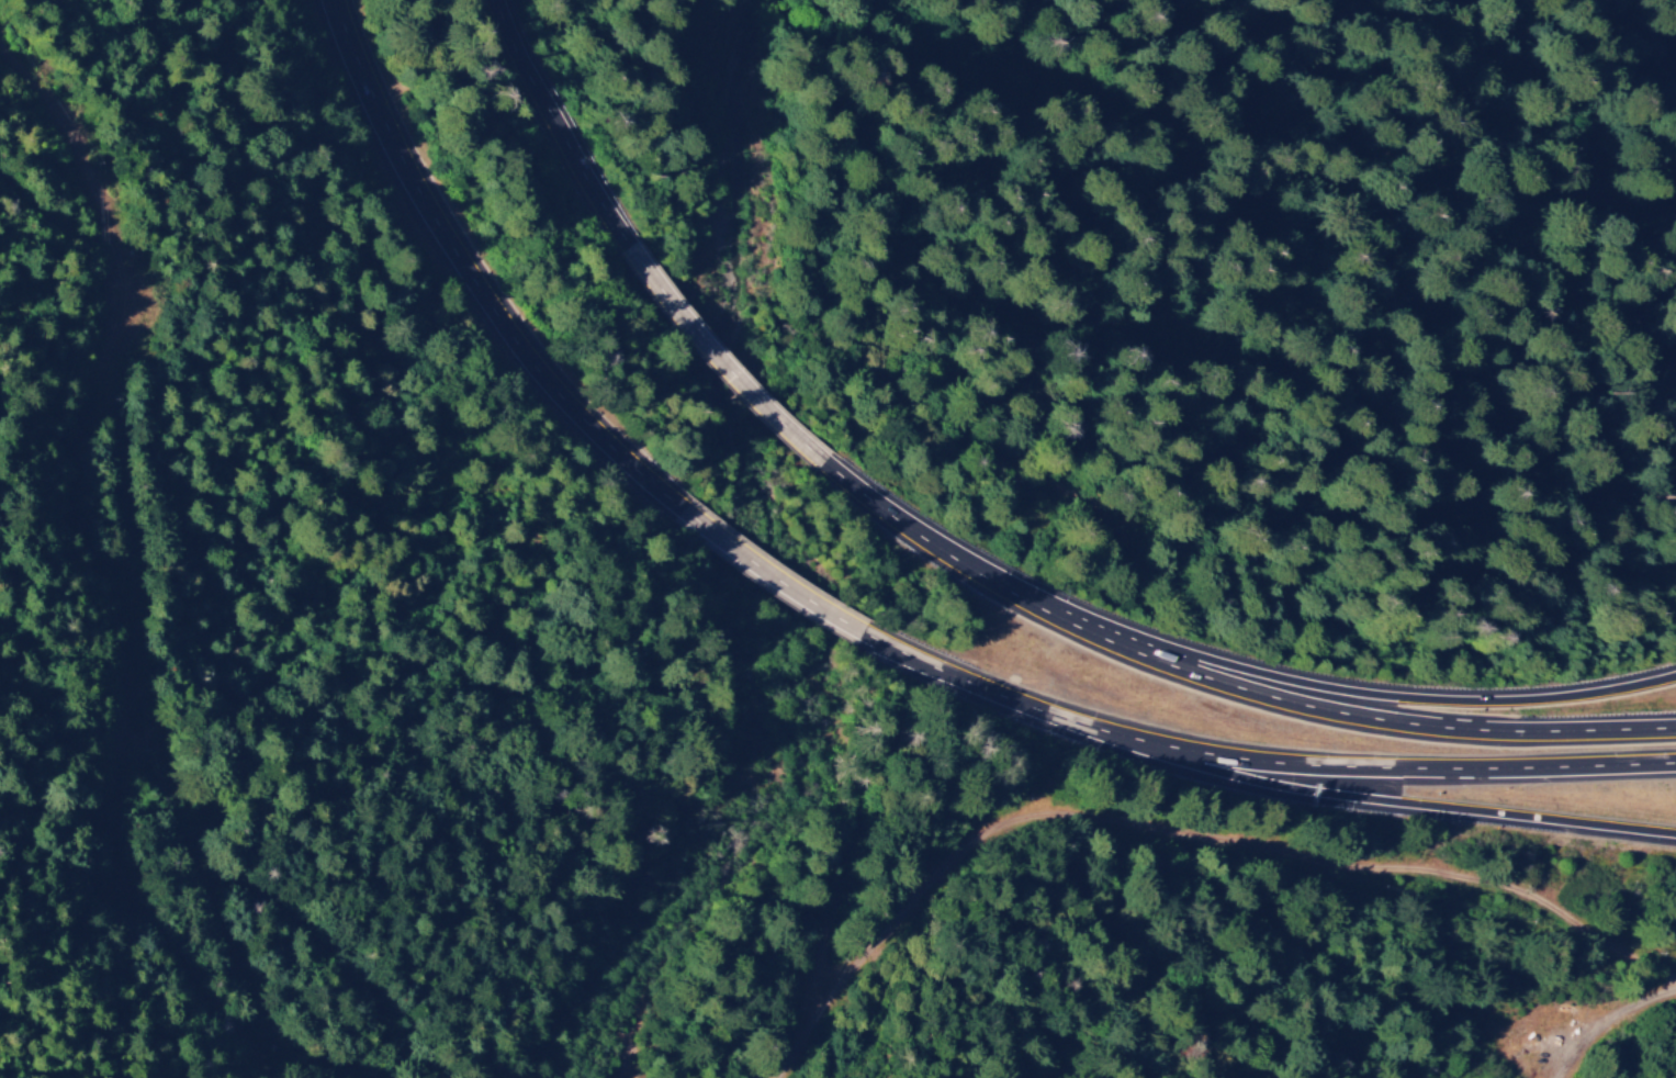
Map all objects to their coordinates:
road: (564, 131)
road: (1268, 224)
road: (1618, 252)
road: (485, 282)
road: (727, 369)
road: (947, 558)
road: (778, 581)
road: (67, 583)
road: (937, 673)
road: (1372, 697)
road: (1066, 721)
road: (1368, 722)
road: (1397, 773)
road: (1395, 808)
road: (1181, 830)
road: (1588, 1015)

